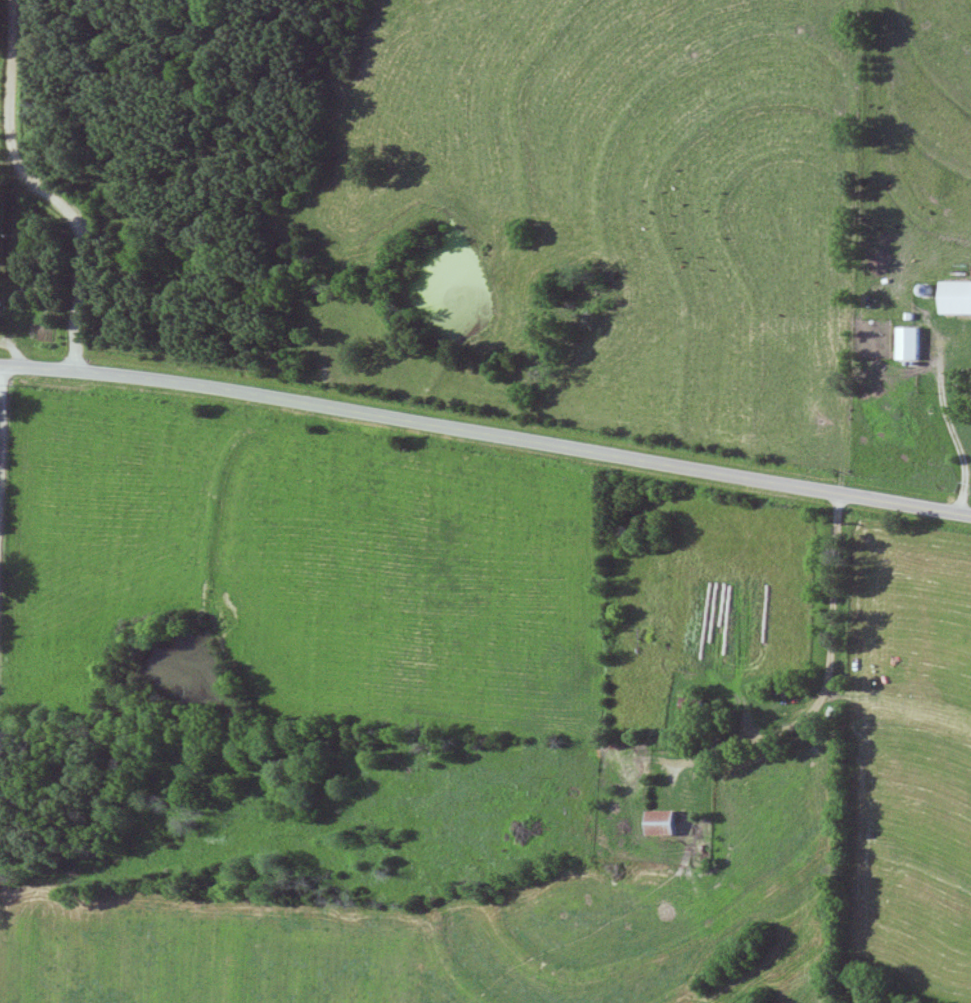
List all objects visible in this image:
road: (36, 190)
building: (957, 299)
building: (1, 303)
building: (910, 345)
road: (486, 436)
road: (818, 680)
building: (663, 823)

